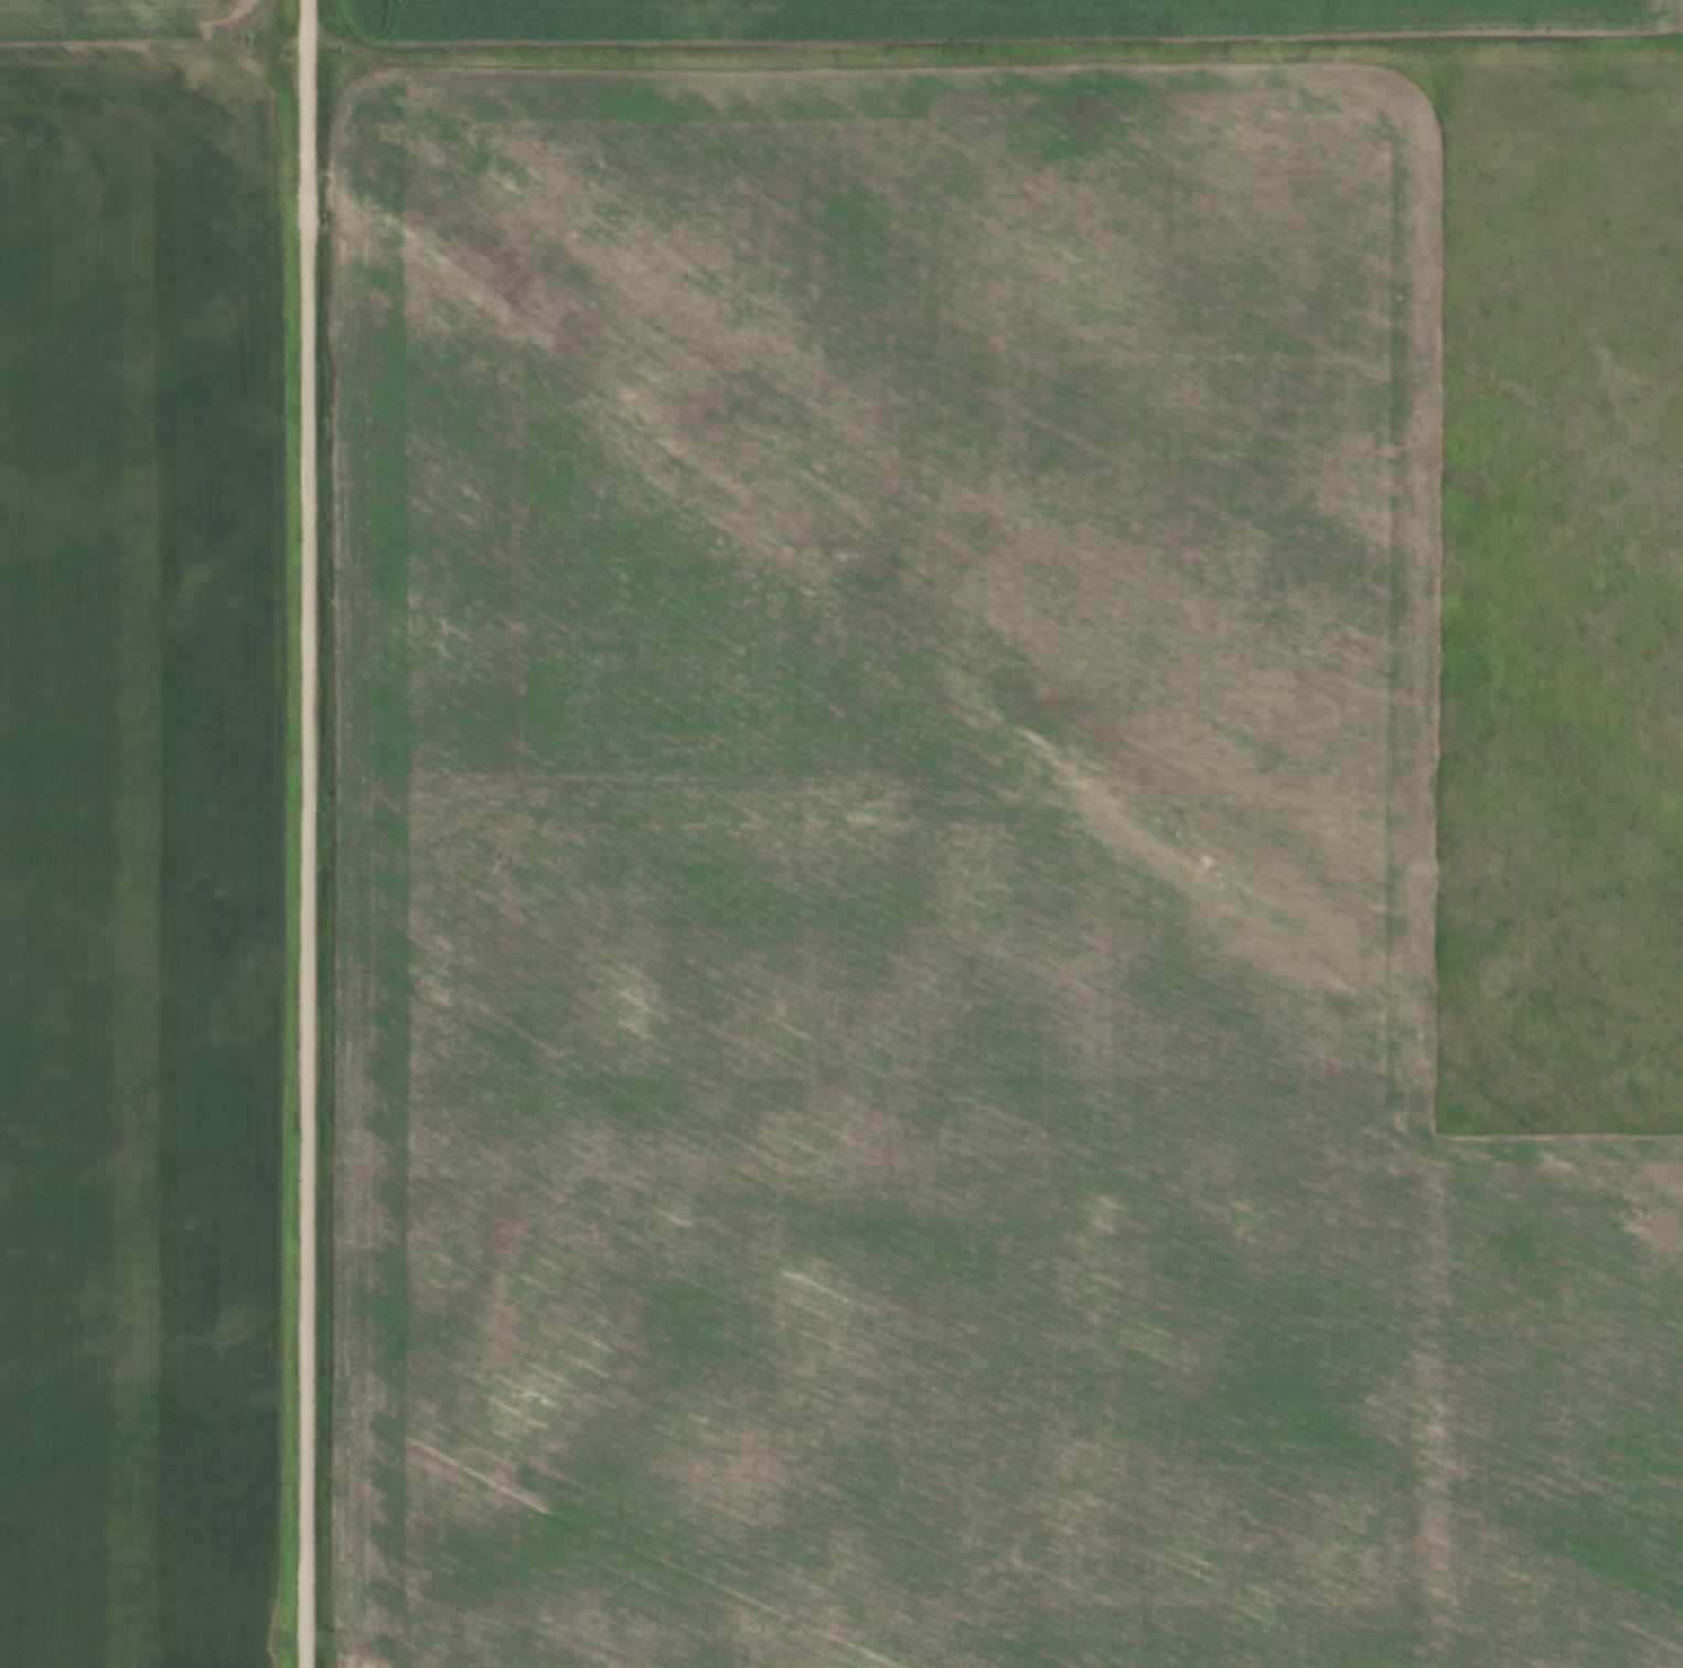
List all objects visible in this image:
road: (311, 834)

